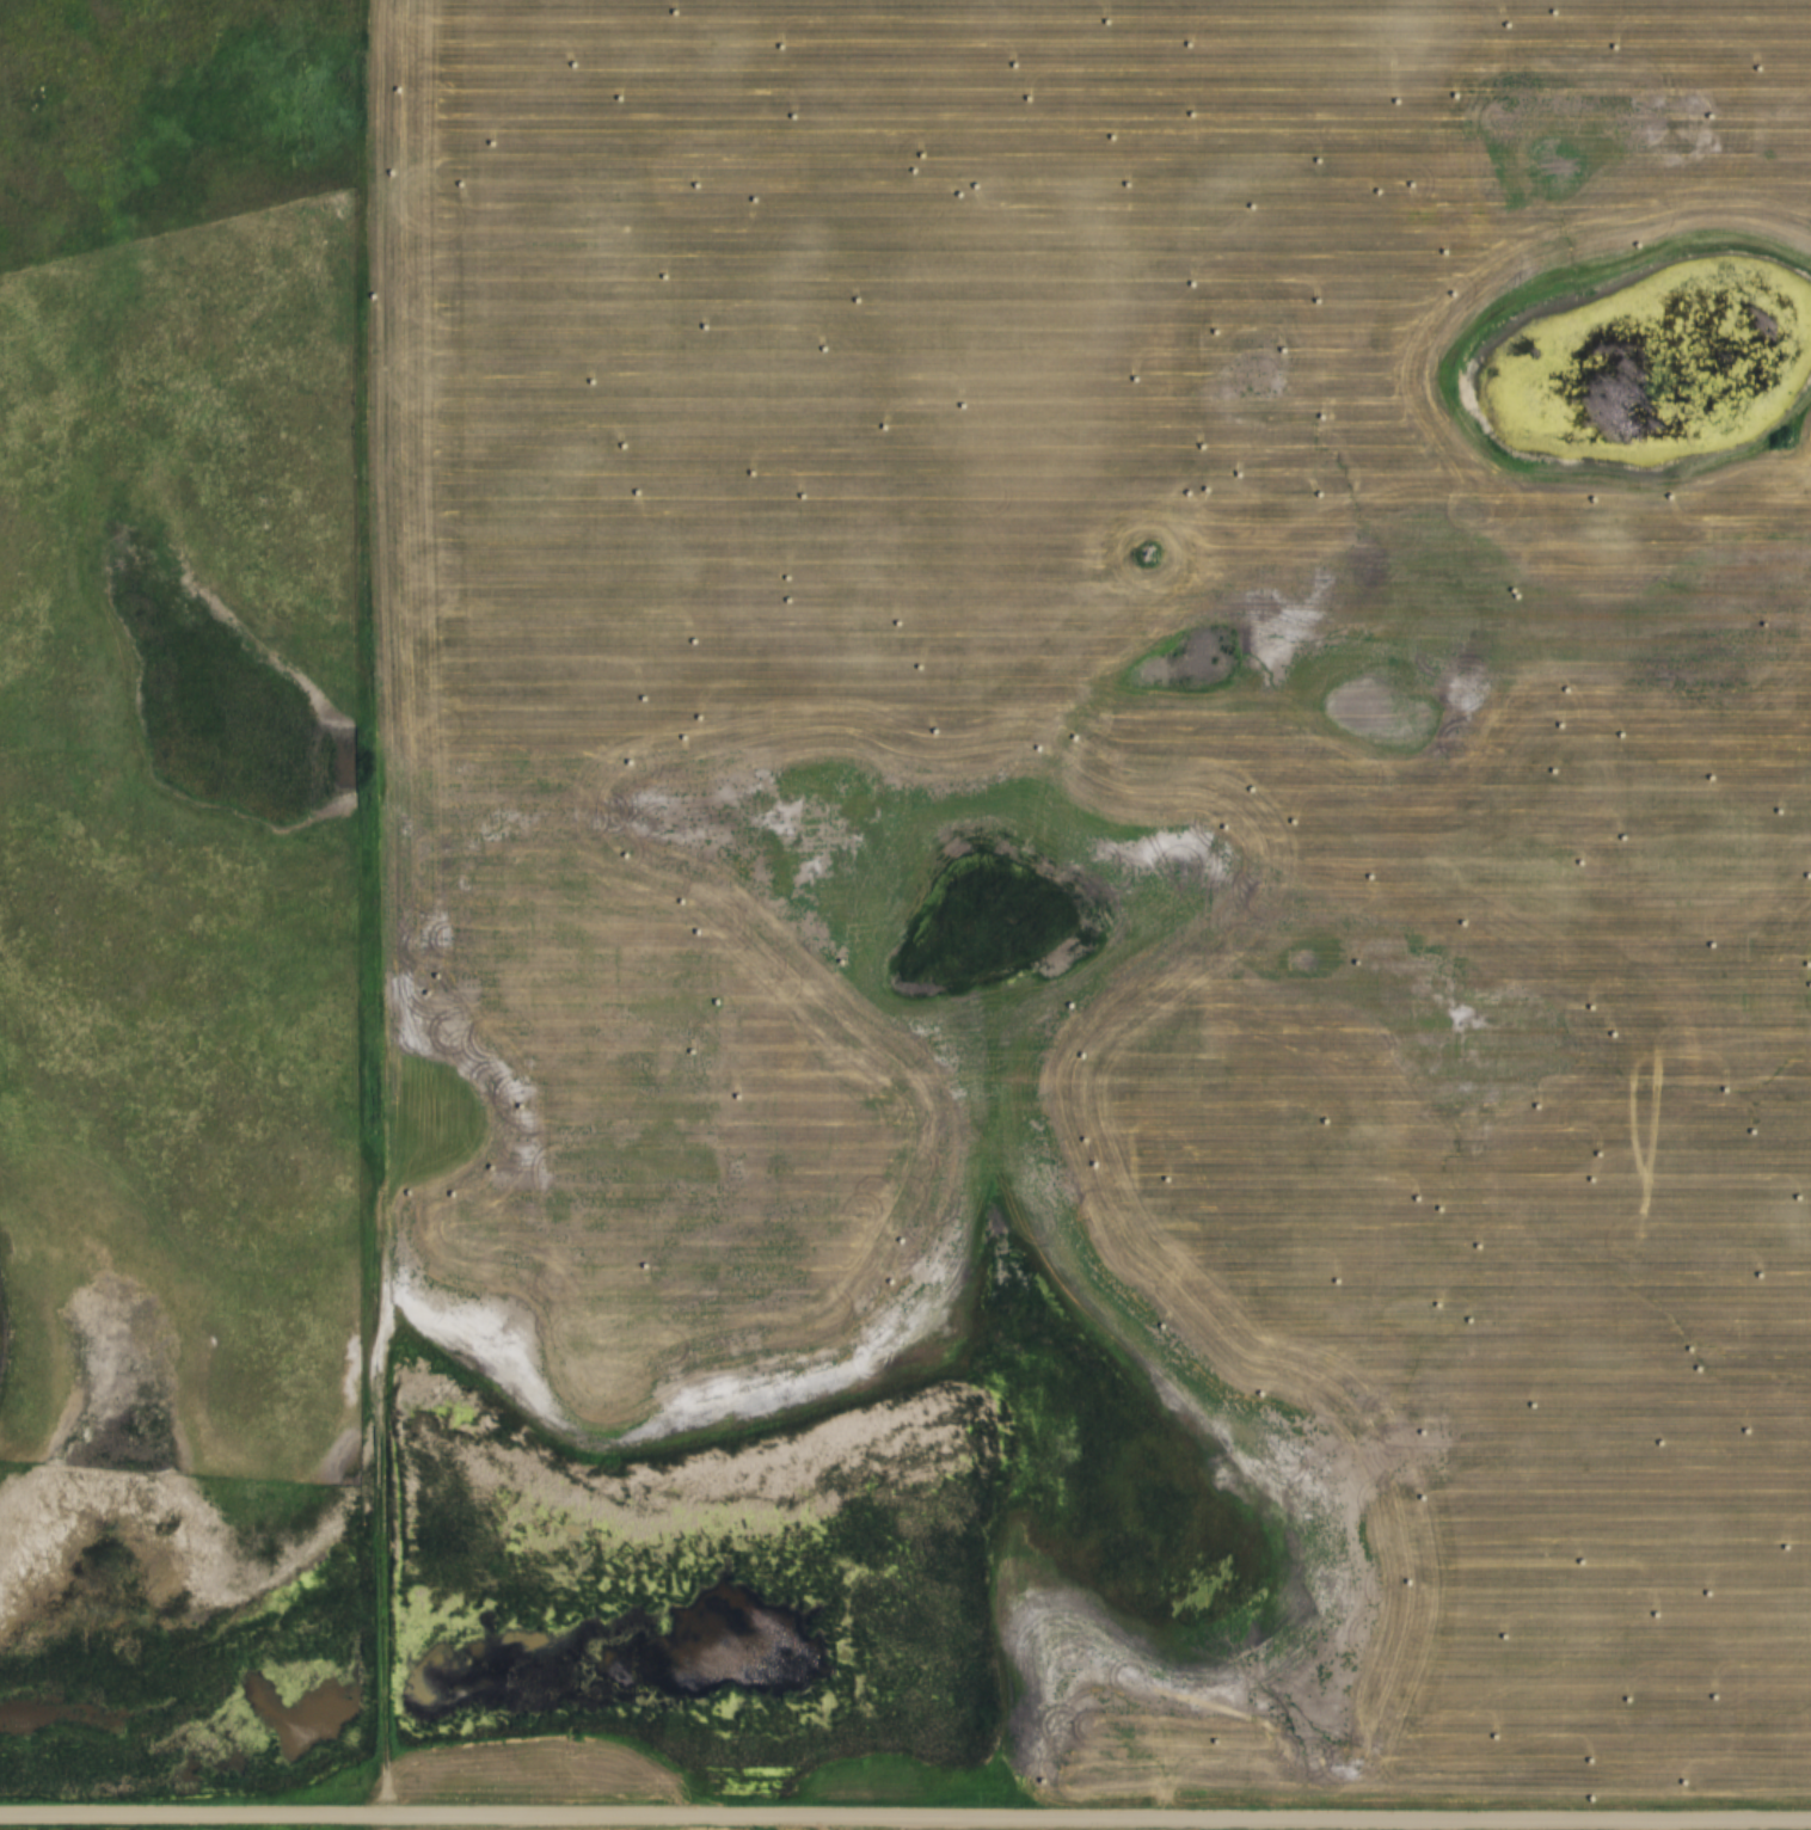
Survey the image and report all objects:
road: (904, 1813)

